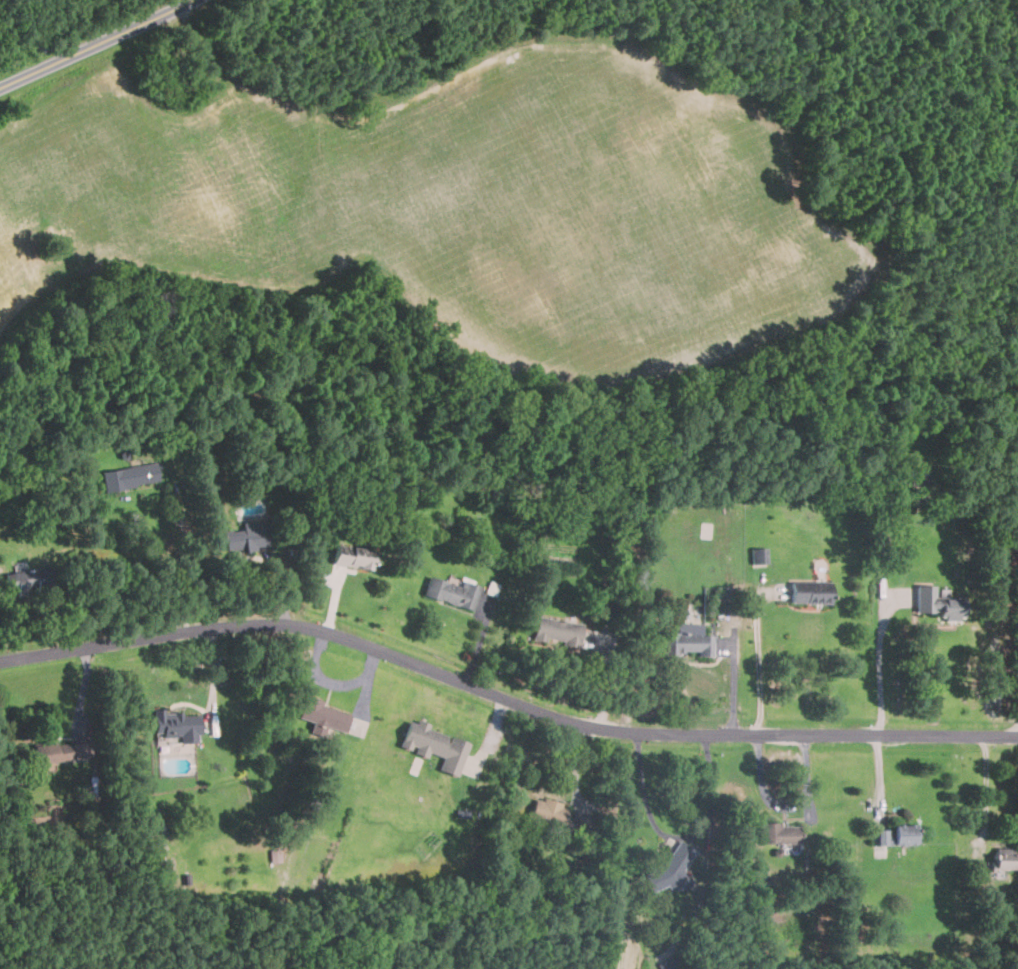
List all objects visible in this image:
road: (102, 44)
building: (919, 474)
building: (131, 476)
building: (246, 535)
building: (355, 557)
building: (756, 557)
road: (188, 559)
building: (31, 581)
building: (453, 591)
building: (807, 593)
building: (935, 605)
building: (560, 630)
building: (691, 640)
road: (759, 658)
road: (880, 669)
road: (732, 686)
road: (504, 698)
building: (335, 718)
building: (180, 724)
building: (438, 746)
building: (62, 752)
road: (984, 793)
building: (551, 812)
building: (782, 832)
building: (890, 834)
road: (675, 836)
building: (1001, 859)
building: (670, 871)
building: (670, 963)

